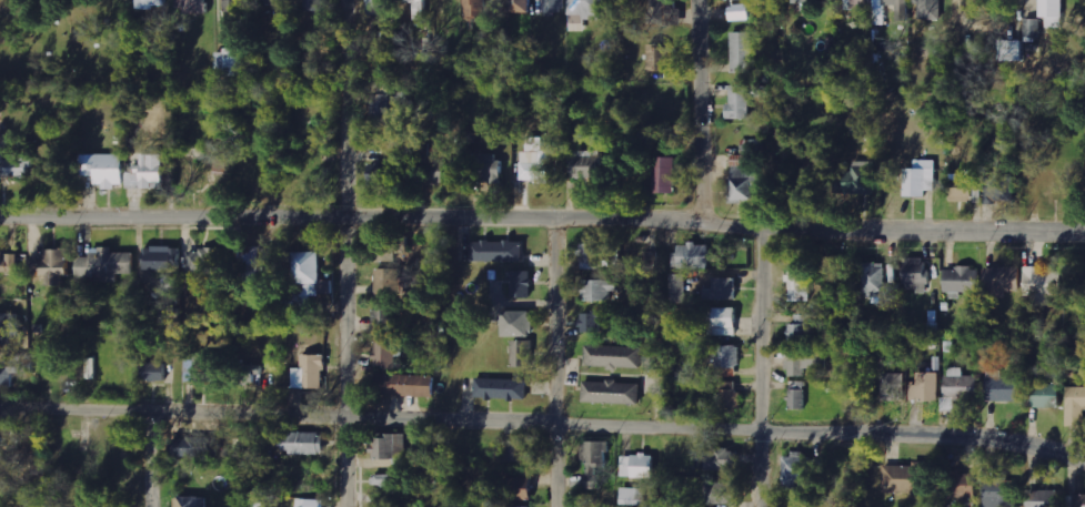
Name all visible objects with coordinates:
building: (802, 0)
building: (979, 2)
building: (152, 3)
building: (858, 3)
building: (313, 4)
building: (193, 6)
building: (521, 6)
building: (554, 6)
building: (234, 7)
building: (379, 7)
building: (282, 8)
building: (901, 8)
building: (419, 9)
building: (475, 9)
building: (930, 9)
building: (660, 11)
building: (586, 12)
building: (739, 12)
building: (878, 12)
building: (1053, 12)
building: (1032, 28)
building: (380, 43)
park: (60, 44)
building: (1009, 50)
building: (742, 52)
building: (659, 58)
building: (230, 62)
building: (546, 92)
building: (739, 102)
building: (506, 103)
road: (697, 110)
building: (381, 111)
building: (750, 146)
building: (536, 161)
building: (17, 162)
building: (586, 163)
building: (489, 168)
building: (104, 169)
building: (439, 170)
building: (149, 172)
building: (382, 174)
building: (665, 175)
building: (921, 178)
building: (861, 179)
building: (744, 183)
building: (963, 186)
building: (999, 189)
road: (542, 214)
building: (499, 251)
building: (390, 252)
road: (345, 253)
building: (693, 255)
building: (599, 256)
building: (162, 258)
building: (205, 261)
building: (9, 262)
building: (254, 263)
building: (106, 264)
building: (51, 266)
building: (309, 273)
building: (915, 274)
building: (874, 280)
building: (389, 281)
building: (1002, 281)
building: (962, 282)
building: (522, 284)
building: (798, 284)
building: (1043, 285)
building: (677, 287)
building: (722, 290)
building: (597, 291)
building: (384, 317)
building: (592, 321)
building: (723, 322)
building: (519, 324)
building: (9, 328)
building: (797, 333)
building: (388, 354)
building: (522, 354)
building: (613, 356)
road: (556, 361)
building: (727, 361)
building: (798, 366)
building: (14, 367)
building: (202, 368)
road: (759, 368)
building: (154, 372)
building: (311, 372)
building: (406, 385)
building: (893, 386)
building: (1001, 386)
building: (925, 387)
building: (501, 389)
building: (612, 392)
building: (797, 395)
building: (1043, 395)
building: (729, 396)
building: (1075, 405)
road: (543, 420)
building: (304, 444)
building: (391, 447)
building: (515, 450)
road: (147, 458)
building: (719, 459)
building: (594, 462)
building: (637, 466)
building: (3, 474)
building: (904, 478)
building: (389, 484)
building: (964, 485)
building: (519, 489)
building: (719, 493)
building: (1001, 493)
building: (632, 496)
building: (1043, 498)
building: (1079, 500)
building: (191, 501)
building: (310, 503)

